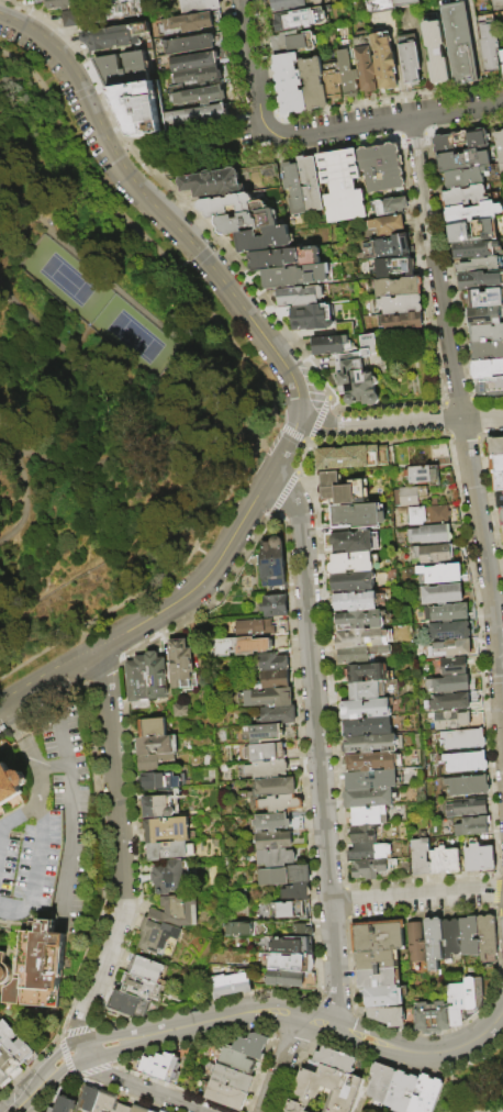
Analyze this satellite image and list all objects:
building: (60, 3)
building: (293, 3)
building: (405, 3)
building: (195, 4)
building: (495, 4)
building: (378, 5)
building: (122, 8)
building: (67, 15)
building: (301, 19)
building: (190, 23)
building: (118, 37)
building: (293, 42)
building: (459, 43)
building: (488, 43)
building: (192, 45)
building: (436, 53)
road: (82, 55)
road: (265, 59)
building: (501, 59)
building: (384, 60)
building: (195, 62)
road: (231, 62)
building: (411, 63)
building: (365, 64)
road: (24, 66)
road: (251, 68)
building: (130, 69)
road: (72, 73)
building: (347, 75)
building: (199, 76)
building: (333, 80)
road: (22, 81)
building: (289, 82)
building: (313, 84)
building: (176, 90)
building: (200, 97)
road: (392, 102)
building: (142, 108)
building: (197, 115)
road: (278, 120)
road: (383, 121)
road: (258, 122)
road: (462, 126)
road: (8, 132)
road: (188, 132)
road: (411, 134)
road: (282, 135)
road: (69, 136)
road: (130, 141)
building: (459, 142)
road: (237, 143)
park: (191, 148)
road: (320, 148)
building: (499, 149)
road: (286, 152)
road: (139, 160)
building: (462, 162)
road: (119, 165)
building: (379, 166)
road: (44, 170)
road: (160, 176)
building: (463, 178)
building: (208, 181)
building: (306, 184)
building: (338, 184)
building: (290, 188)
building: (463, 197)
building: (226, 203)
building: (387, 205)
building: (471, 214)
building: (243, 220)
building: (384, 223)
building: (483, 231)
road: (182, 233)
building: (264, 238)
building: (387, 244)
road: (199, 247)
building: (474, 251)
building: (284, 257)
road: (93, 262)
building: (391, 265)
road: (448, 265)
building: (482, 266)
road: (435, 269)
road: (418, 271)
building: (295, 276)
park: (66, 280)
building: (480, 281)
road: (249, 282)
building: (395, 286)
building: (301, 296)
building: (483, 299)
building: (398, 304)
building: (313, 318)
building: (484, 318)
building: (398, 321)
building: (345, 329)
road: (82, 332)
building: (485, 334)
park: (134, 336)
building: (333, 345)
road: (198, 346)
road: (279, 353)
building: (488, 353)
road: (247, 362)
building: (487, 369)
building: (358, 374)
road: (102, 375)
building: (490, 388)
park: (103, 394)
road: (457, 400)
road: (487, 400)
road: (244, 407)
road: (379, 408)
road: (318, 416)
road: (257, 421)
road: (238, 422)
road: (401, 423)
road: (290, 433)
road: (303, 443)
road: (115, 444)
building: (495, 447)
road: (276, 449)
road: (302, 455)
building: (353, 457)
road: (189, 462)
fountain: (305, 464)
building: (495, 465)
building: (423, 475)
building: (498, 482)
building: (343, 489)
road: (283, 491)
building: (407, 497)
road: (34, 500)
building: (500, 500)
building: (429, 514)
road: (278, 515)
building: (359, 515)
building: (502, 516)
building: (432, 534)
building: (354, 542)
road: (105, 553)
building: (436, 554)
building: (270, 561)
building: (353, 563)
building: (440, 574)
road: (16, 575)
road: (206, 580)
road: (488, 580)
building: (354, 582)
building: (443, 593)
building: (357, 601)
road: (211, 603)
road: (12, 605)
building: (272, 605)
building: (449, 612)
road: (91, 619)
building: (361, 621)
building: (261, 627)
building: (451, 631)
building: (360, 638)
building: (247, 645)
road: (97, 648)
building: (451, 648)
road: (118, 657)
building: (358, 657)
road: (80, 660)
building: (271, 661)
road: (119, 664)
building: (182, 665)
building: (454, 666)
road: (103, 672)
building: (368, 672)
building: (156, 676)
road: (54, 677)
building: (275, 678)
building: (137, 679)
road: (85, 682)
road: (89, 683)
building: (449, 685)
building: (385, 687)
building: (368, 691)
building: (266, 697)
building: (452, 702)
building: (181, 709)
building: (367, 709)
building: (276, 714)
building: (452, 720)
building: (153, 726)
building: (369, 726)
building: (260, 732)
building: (465, 738)
road: (24, 741)
road: (63, 743)
building: (371, 744)
building: (154, 745)
road: (317, 748)
building: (265, 752)
building: (148, 763)
road: (301, 763)
building: (371, 763)
building: (466, 763)
road: (51, 765)
building: (267, 769)
building: (161, 780)
building: (372, 780)
building: (10, 782)
road: (42, 786)
building: (468, 786)
building: (273, 787)
building: (370, 798)
building: (280, 803)
building: (157, 807)
building: (468, 807)
road: (21, 812)
parking lot: (68, 812)
building: (370, 816)
building: (271, 822)
building: (472, 826)
building: (168, 830)
road: (0, 832)
building: (366, 835)
building: (275, 839)
road: (68, 843)
road: (35, 850)
building: (170, 850)
road: (123, 852)
road: (100, 853)
building: (370, 853)
building: (275, 857)
building: (422, 857)
building: (480, 858)
building: (446, 861)
parking lot: (29, 863)
building: (371, 869)
building: (281, 876)
building: (170, 877)
building: (293, 892)
road: (416, 898)
building: (289, 910)
building: (179, 912)
road: (15, 913)
building: (299, 930)
building: (243, 931)
building: (375, 935)
building: (469, 937)
building: (159, 938)
building: (433, 939)
building: (450, 939)
building: (487, 939)
building: (415, 944)
building: (290, 945)
building: (375, 959)
road: (116, 960)
building: (37, 963)
building: (288, 963)
building: (143, 968)
building: (3, 969)
building: (376, 977)
building: (288, 978)
road: (75, 980)
building: (227, 983)
building: (137, 987)
building: (10, 992)
building: (470, 994)
building: (380, 996)
building: (126, 1003)
building: (454, 1003)
building: (384, 1015)
building: (428, 1016)
road: (89, 1027)
road: (72, 1031)
road: (150, 1032)
building: (14, 1045)
building: (251, 1046)
road: (413, 1053)
road: (480, 1055)
road: (65, 1057)
building: (333, 1059)
building: (237, 1061)
road: (281, 1061)
building: (8, 1063)
building: (161, 1067)
road: (91, 1070)
building: (1, 1077)
building: (232, 1079)
building: (381, 1083)
road: (136, 1087)
building: (340, 1088)
building: (402, 1092)
building: (224, 1096)
building: (426, 1096)
building: (90, 1098)
building: (105, 1102)
building: (65, 1104)
road: (487, 1108)
building: (122, 1109)
building: (137, 1109)
building: (150, 1111)
building: (160, 1111)

